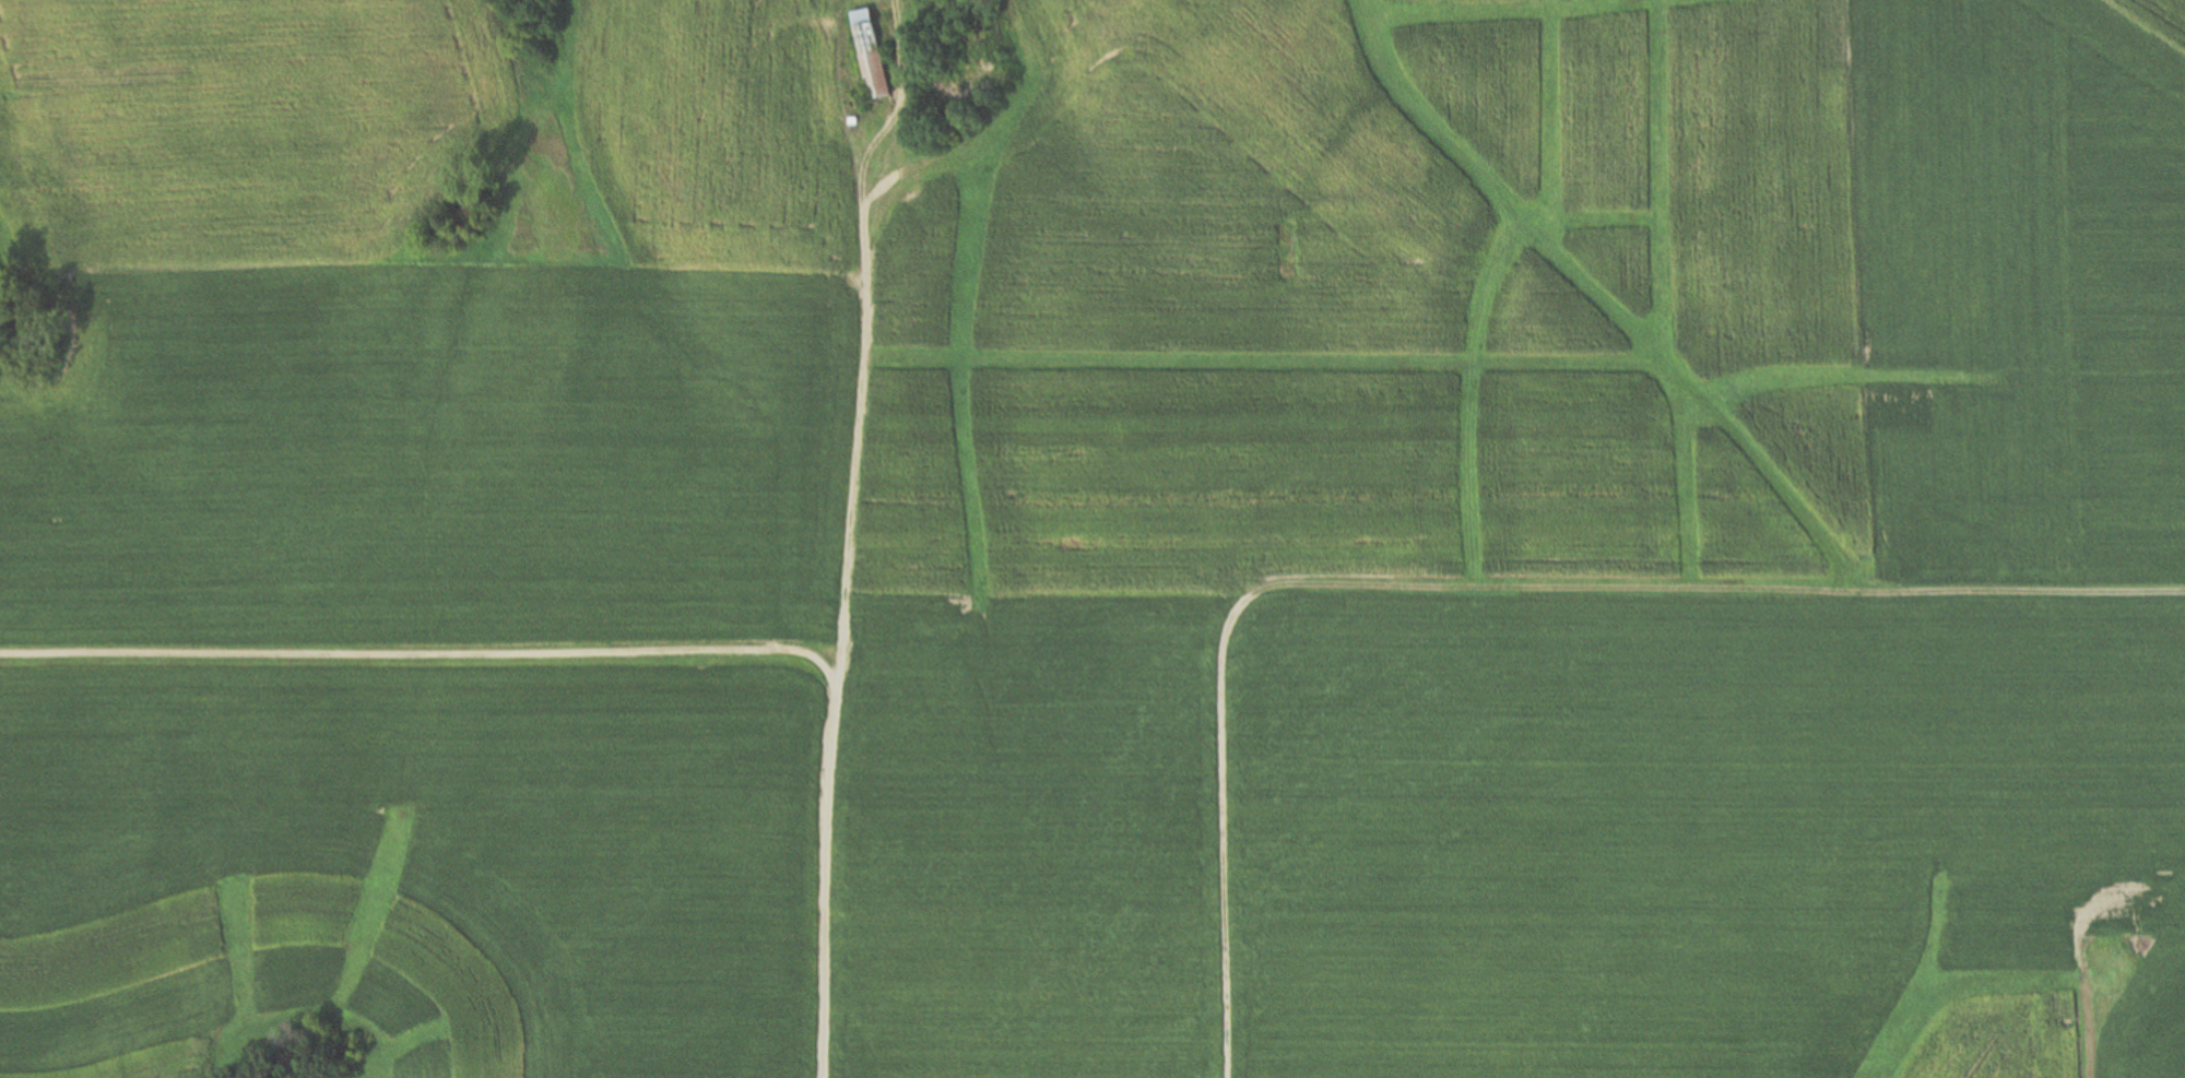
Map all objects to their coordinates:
building: (871, 55)
road: (934, 165)
road: (1646, 342)
road: (848, 533)
road: (1473, 589)
road: (427, 653)
road: (2083, 1015)

